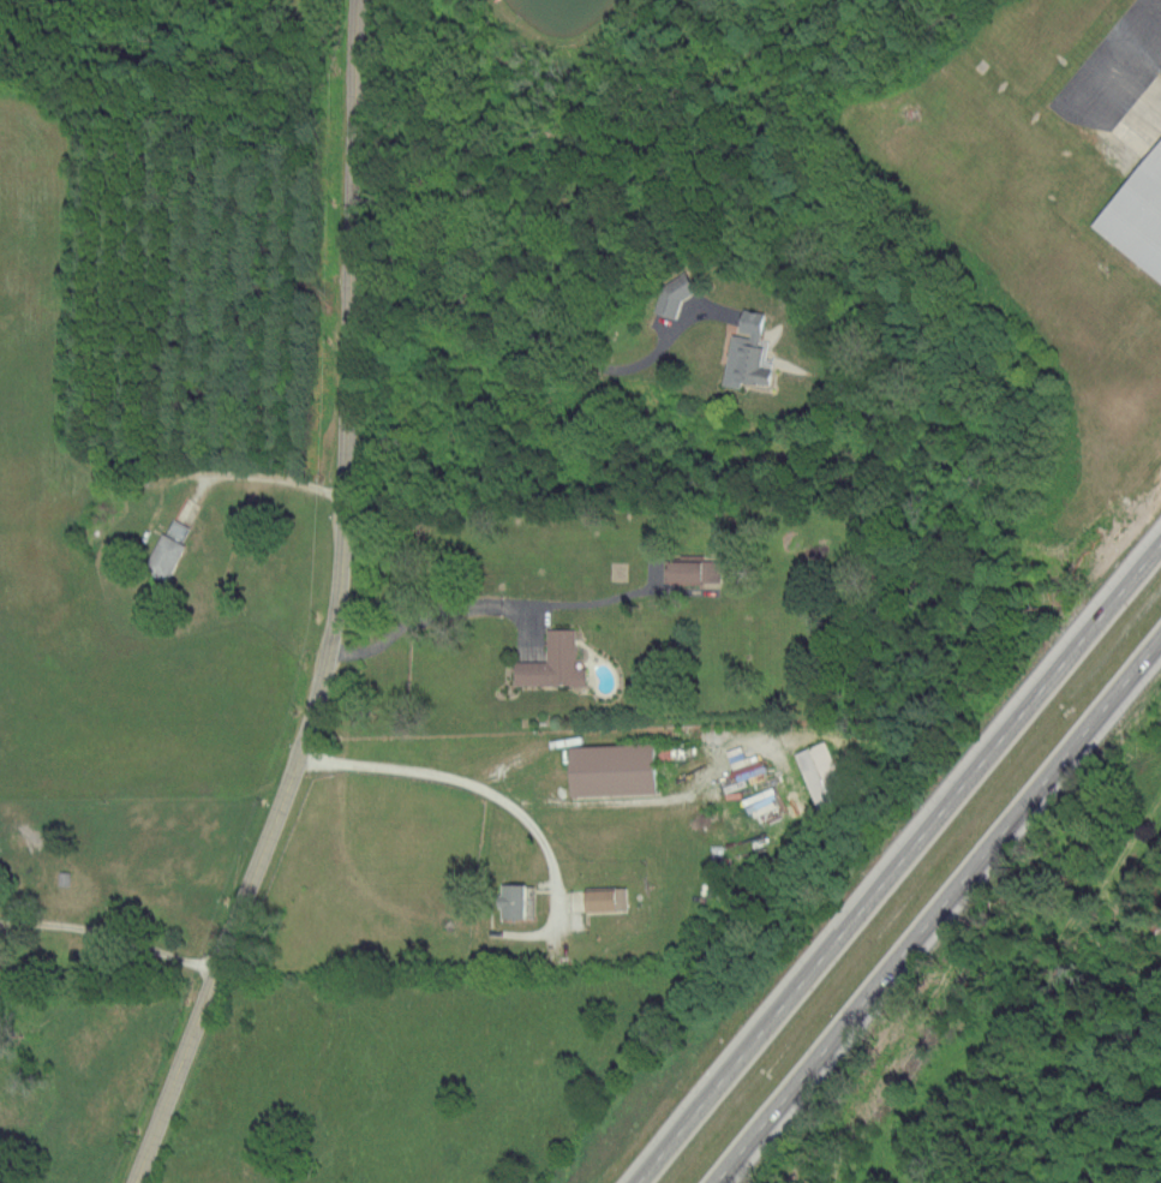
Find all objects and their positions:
road: (1118, 60)
building: (1139, 216)
road: (551, 345)
building: (750, 351)
road: (246, 477)
building: (172, 548)
building: (696, 570)
road: (480, 604)
road: (334, 609)
building: (553, 662)
building: (616, 769)
building: (818, 779)
road: (455, 781)
road: (898, 862)
building: (608, 898)
building: (519, 901)
road: (936, 909)
road: (109, 932)

